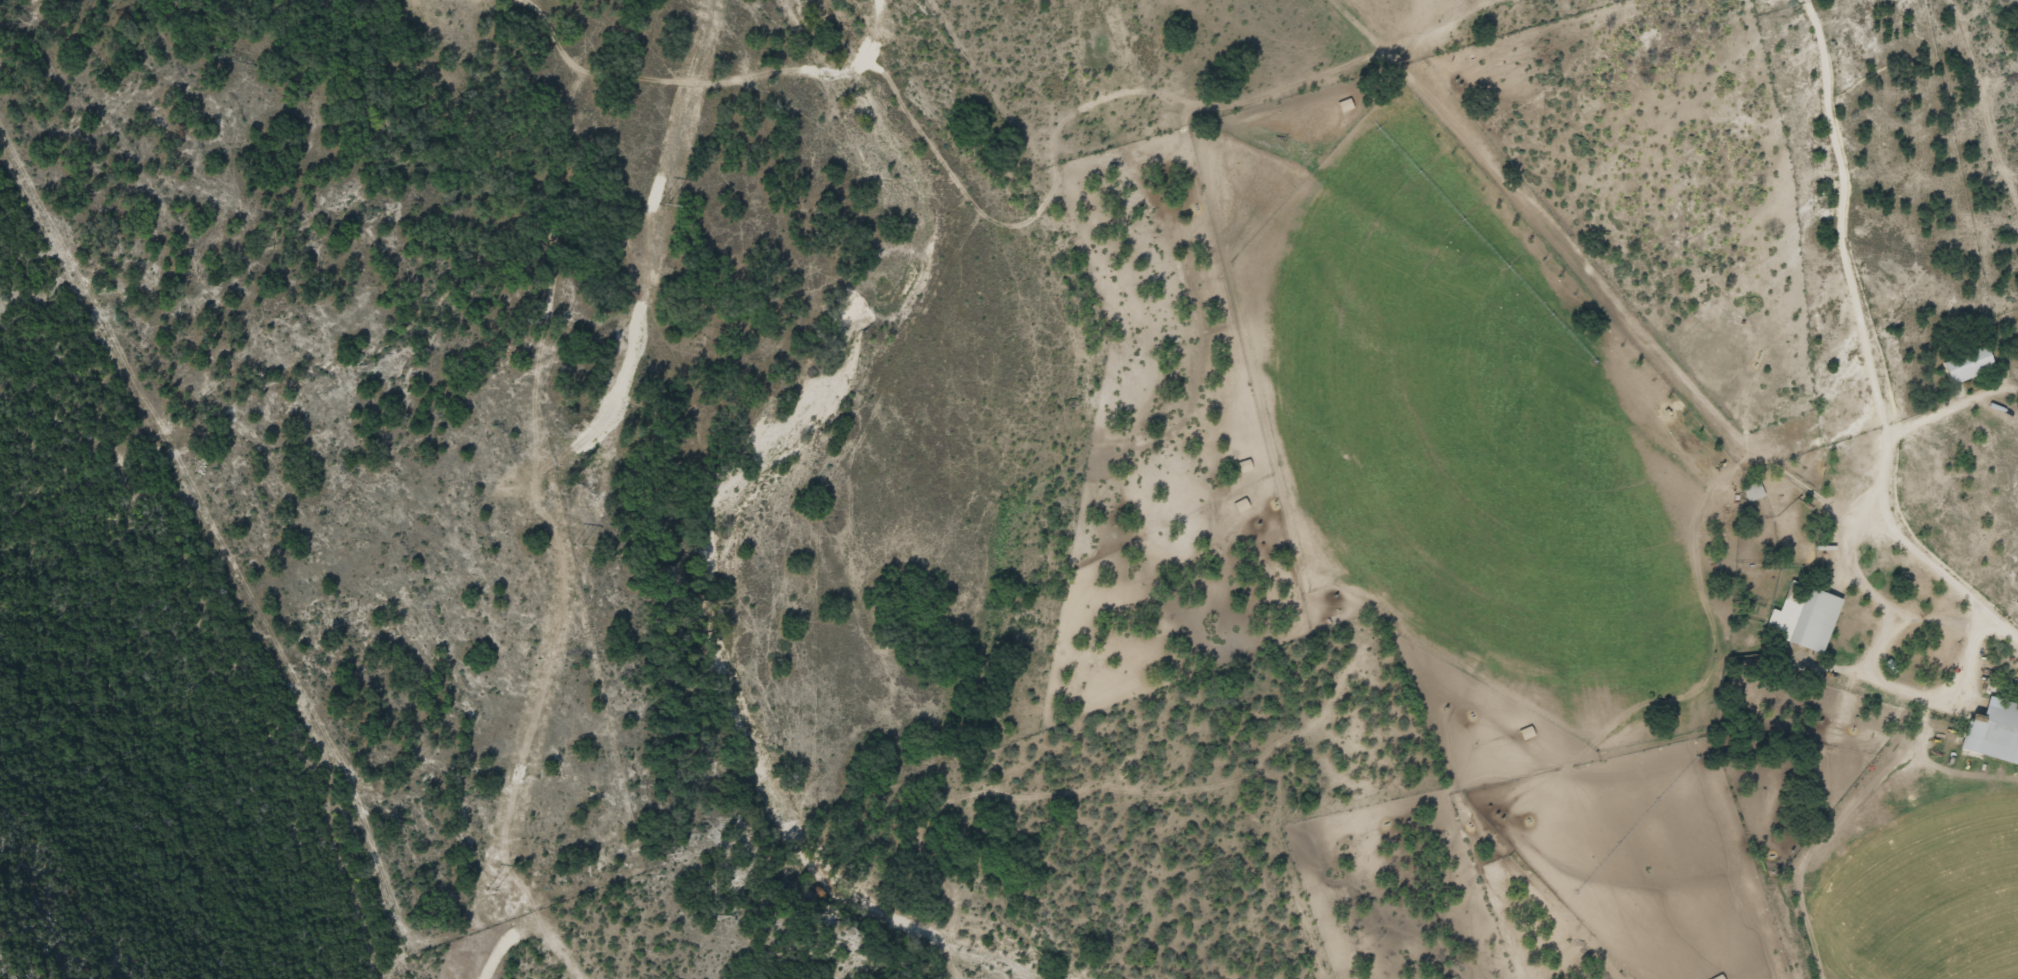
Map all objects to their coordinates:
road: (648, 116)
power tower: (660, 205)
road: (1644, 350)
building: (1964, 364)
building: (1750, 491)
power tower: (574, 547)
building: (1801, 617)
building: (1994, 725)
power tower: (489, 889)
road: (537, 914)

